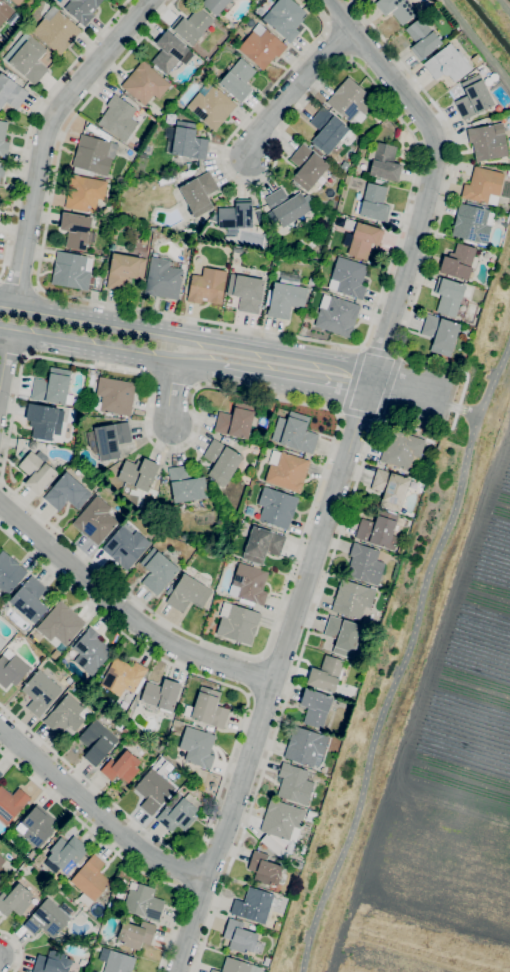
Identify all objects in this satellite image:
building: (17, 2)
building: (215, 5)
building: (82, 9)
building: (397, 9)
building: (5, 11)
building: (285, 18)
building: (192, 26)
building: (56, 30)
building: (9, 32)
building: (422, 38)
building: (1, 40)
building: (261, 46)
building: (170, 52)
building: (27, 58)
building: (448, 63)
building: (238, 80)
building: (145, 83)
road: (295, 89)
building: (11, 92)
building: (473, 98)
building: (350, 102)
building: (211, 107)
building: (118, 118)
building: (170, 118)
road: (32, 122)
building: (328, 132)
road: (50, 135)
building: (3, 138)
building: (187, 141)
building: (487, 142)
building: (129, 152)
building: (142, 155)
building: (92, 157)
building: (383, 162)
building: (307, 167)
building: (2, 168)
building: (483, 186)
building: (84, 193)
building: (199, 193)
building: (374, 203)
building: (286, 206)
road: (439, 212)
building: (236, 215)
building: (472, 224)
building: (75, 230)
building: (360, 238)
building: (458, 262)
building: (124, 270)
building: (72, 271)
building: (348, 278)
building: (163, 279)
building: (311, 282)
road: (18, 284)
building: (207, 286)
building: (246, 292)
building: (285, 296)
building: (449, 296)
building: (306, 305)
road: (374, 312)
building: (336, 315)
building: (307, 316)
building: (305, 325)
road: (189, 334)
building: (440, 334)
road: (362, 347)
road: (381, 350)
road: (111, 351)
road: (12, 352)
road: (400, 353)
road: (4, 365)
road: (494, 377)
road: (298, 384)
building: (52, 387)
road: (172, 392)
road: (413, 394)
building: (114, 396)
road: (466, 410)
road: (359, 412)
road: (339, 413)
road: (377, 418)
building: (43, 421)
building: (235, 421)
building: (294, 433)
building: (111, 439)
building: (402, 450)
building: (221, 462)
building: (35, 469)
building: (286, 471)
building: (139, 473)
road: (341, 475)
building: (186, 485)
building: (390, 489)
building: (67, 493)
building: (277, 508)
building: (95, 520)
building: (378, 528)
building: (262, 545)
building: (125, 547)
building: (365, 564)
building: (157, 571)
building: (9, 573)
road: (112, 577)
building: (249, 585)
building: (188, 593)
building: (29, 599)
building: (352, 600)
road: (127, 609)
building: (237, 623)
building: (60, 624)
building: (342, 636)
building: (1, 642)
road: (302, 649)
building: (90, 651)
building: (11, 668)
building: (326, 674)
road: (253, 676)
building: (123, 677)
building: (40, 692)
road: (389, 693)
building: (162, 695)
building: (315, 708)
building: (207, 709)
building: (66, 716)
park: (429, 723)
building: (96, 741)
building: (197, 747)
building: (306, 747)
road: (233, 749)
building: (121, 767)
building: (1, 774)
building: (294, 784)
building: (153, 791)
building: (11, 803)
road: (97, 812)
building: (179, 814)
building: (283, 822)
building: (38, 826)
building: (274, 846)
building: (65, 853)
road: (118, 854)
building: (1, 860)
building: (295, 864)
building: (264, 869)
road: (187, 871)
building: (2, 873)
building: (91, 878)
building: (15, 900)
building: (143, 901)
building: (256, 905)
building: (49, 918)
building: (136, 934)
building: (240, 936)
building: (59, 940)
road: (18, 947)
building: (266, 961)
building: (52, 962)
building: (118, 962)
building: (237, 966)

